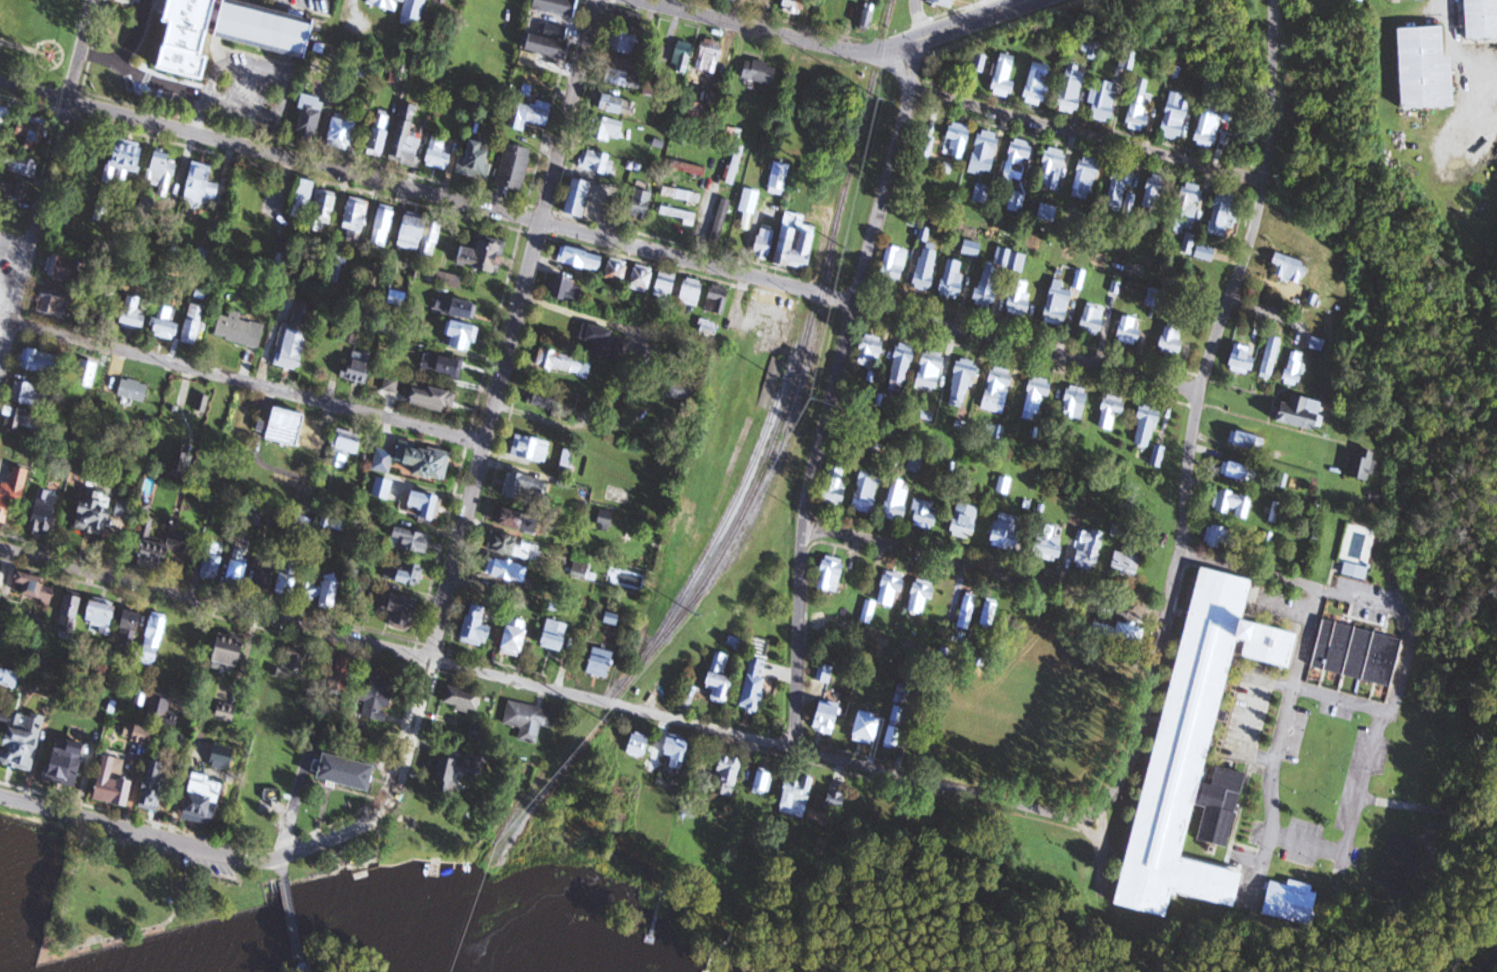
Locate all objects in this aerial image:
building: (736, 0)
building: (1392, 0)
road: (1004, 4)
building: (796, 6)
building: (403, 9)
building: (835, 12)
road: (919, 18)
building: (869, 19)
building: (1480, 19)
road: (742, 24)
building: (231, 32)
building: (626, 32)
road: (936, 33)
building: (551, 35)
road: (127, 50)
building: (683, 57)
road: (1451, 57)
building: (709, 58)
building: (979, 63)
building: (1425, 68)
building: (761, 72)
building: (1004, 76)
building: (622, 78)
building: (1038, 84)
building: (652, 86)
road: (178, 87)
building: (1072, 90)
building: (1103, 101)
building: (617, 105)
building: (694, 112)
building: (1138, 114)
building: (530, 116)
building: (311, 117)
building: (1175, 117)
building: (4, 122)
building: (607, 129)
building: (30, 134)
building: (343, 135)
building: (379, 135)
road: (1086, 136)
building: (408, 139)
building: (957, 140)
building: (927, 146)
building: (692, 147)
building: (733, 151)
building: (985, 152)
building: (1020, 152)
building: (439, 153)
building: (126, 159)
building: (479, 160)
building: (597, 161)
building: (20, 165)
building: (515, 167)
building: (691, 168)
building: (1052, 168)
building: (162, 172)
building: (779, 178)
building: (1085, 178)
building: (751, 183)
building: (203, 184)
road: (46, 185)
building: (13, 188)
building: (1155, 193)
building: (681, 194)
building: (1119, 196)
building: (579, 197)
building: (304, 199)
building: (1016, 202)
building: (642, 204)
building: (1188, 207)
building: (323, 210)
building: (1047, 211)
road: (707, 214)
building: (1223, 214)
building: (677, 215)
building: (721, 219)
building: (356, 220)
building: (383, 226)
building: (422, 234)
road: (599, 237)
building: (796, 242)
building: (764, 244)
building: (972, 248)
building: (1206, 253)
building: (483, 255)
building: (582, 258)
building: (894, 265)
building: (335, 266)
building: (64, 268)
building: (1289, 268)
building: (926, 269)
building: (617, 271)
building: (641, 280)
building: (665, 285)
building: (988, 286)
building: (568, 289)
building: (692, 291)
building: (1153, 297)
building: (1019, 298)
building: (718, 299)
building: (1058, 304)
building: (54, 305)
building: (456, 308)
road: (1225, 309)
building: (134, 314)
building: (1092, 320)
road: (6, 321)
building: (167, 324)
building: (195, 325)
road: (515, 329)
building: (240, 330)
building: (1128, 331)
building: (461, 335)
building: (296, 339)
building: (600, 339)
building: (1172, 341)
railway: (813, 348)
building: (871, 351)
building: (643, 355)
building: (1271, 357)
building: (1242, 360)
building: (38, 363)
building: (565, 363)
building: (902, 363)
building: (443, 365)
building: (360, 367)
railway: (798, 367)
building: (931, 369)
building: (1294, 369)
building: (87, 374)
road: (249, 383)
building: (393, 383)
building: (962, 383)
building: (134, 390)
building: (998, 390)
building: (682, 391)
road: (831, 393)
building: (1037, 394)
building: (31, 396)
building: (543, 398)
building: (436, 399)
building: (203, 403)
building: (1075, 403)
building: (1111, 411)
building: (1303, 413)
building: (22, 420)
building: (285, 427)
building: (1147, 427)
road: (578, 428)
building: (1247, 441)
building: (346, 447)
building: (531, 448)
building: (1158, 456)
building: (183, 458)
building: (384, 460)
building: (428, 464)
building: (1361, 465)
building: (1239, 471)
building: (525, 486)
building: (835, 486)
building: (383, 488)
building: (867, 491)
building: (13, 494)
building: (897, 500)
building: (1231, 503)
building: (425, 505)
railway: (731, 508)
building: (102, 513)
building: (924, 514)
building: (45, 517)
building: (517, 520)
building: (966, 521)
railway: (750, 522)
building: (1008, 531)
building: (1219, 537)
building: (412, 541)
building: (161, 544)
building: (1049, 544)
building: (511, 546)
building: (1088, 549)
building: (1127, 560)
building: (212, 566)
building: (238, 568)
building: (506, 570)
road: (986, 570)
building: (1355, 571)
building: (405, 574)
building: (1, 575)
building: (831, 575)
building: (266, 579)
building: (287, 585)
building: (35, 588)
building: (891, 590)
building: (324, 592)
building: (921, 596)
road: (216, 604)
road: (1391, 608)
building: (402, 612)
building: (966, 612)
building: (868, 613)
building: (989, 613)
building: (70, 615)
building: (102, 620)
building: (478, 627)
building: (1120, 630)
building: (555, 635)
building: (516, 638)
building: (155, 640)
building: (1357, 652)
building: (230, 653)
building: (296, 659)
building: (602, 663)
building: (824, 673)
building: (343, 675)
building: (721, 678)
building: (10, 679)
building: (757, 682)
building: (376, 698)
building: (463, 699)
building: (159, 710)
building: (227, 712)
building: (2, 715)
building: (827, 717)
building: (529, 720)
building: (867, 727)
building: (478, 732)
building: (894, 733)
building: (24, 740)
building: (639, 745)
road: (1275, 748)
building: (679, 751)
building: (1195, 753)
building: (67, 761)
road: (866, 767)
building: (699, 770)
building: (458, 771)
building: (729, 771)
building: (349, 773)
railway: (545, 775)
building: (764, 781)
building: (115, 784)
building: (155, 787)
road: (395, 791)
building: (797, 794)
building: (203, 800)
road: (1423, 809)
road: (1352, 819)
road: (139, 831)
road: (1101, 834)
road: (282, 869)
park: (140, 892)
road: (1103, 897)
building: (1290, 901)
road: (292, 918)
road: (300, 965)
road: (1147, 969)

